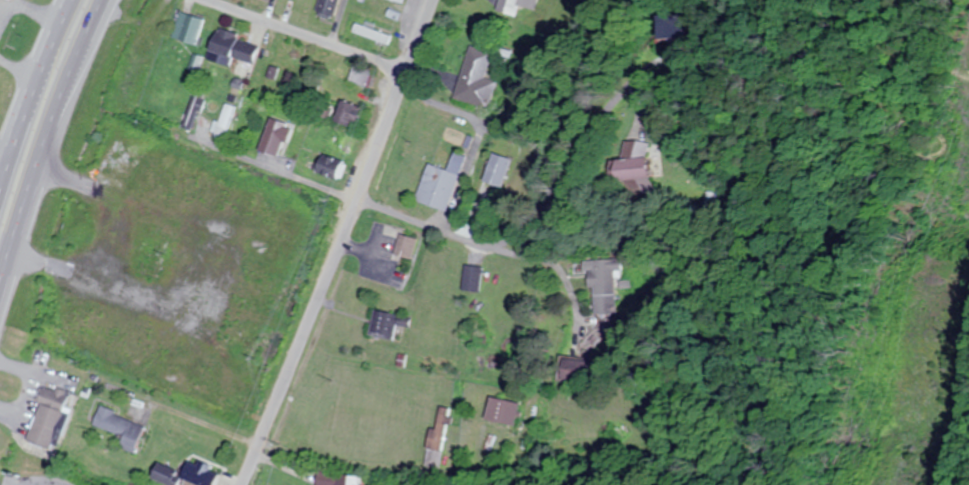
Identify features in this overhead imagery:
building: (0, 0)
building: (16, 0)
building: (396, 0)
building: (514, 6)
building: (325, 8)
building: (672, 26)
building: (189, 29)
building: (370, 34)
road: (310, 36)
building: (233, 50)
building: (473, 79)
road: (34, 98)
building: (195, 111)
building: (345, 114)
building: (224, 122)
building: (273, 140)
road: (52, 148)
road: (241, 157)
building: (631, 162)
building: (327, 166)
building: (438, 185)
road: (553, 211)
road: (340, 243)
building: (405, 246)
building: (473, 278)
road: (562, 279)
building: (605, 286)
building: (383, 326)
building: (575, 371)
building: (499, 411)
building: (48, 418)
building: (119, 428)
building: (438, 438)
road: (415, 470)
building: (196, 474)
building: (335, 479)

